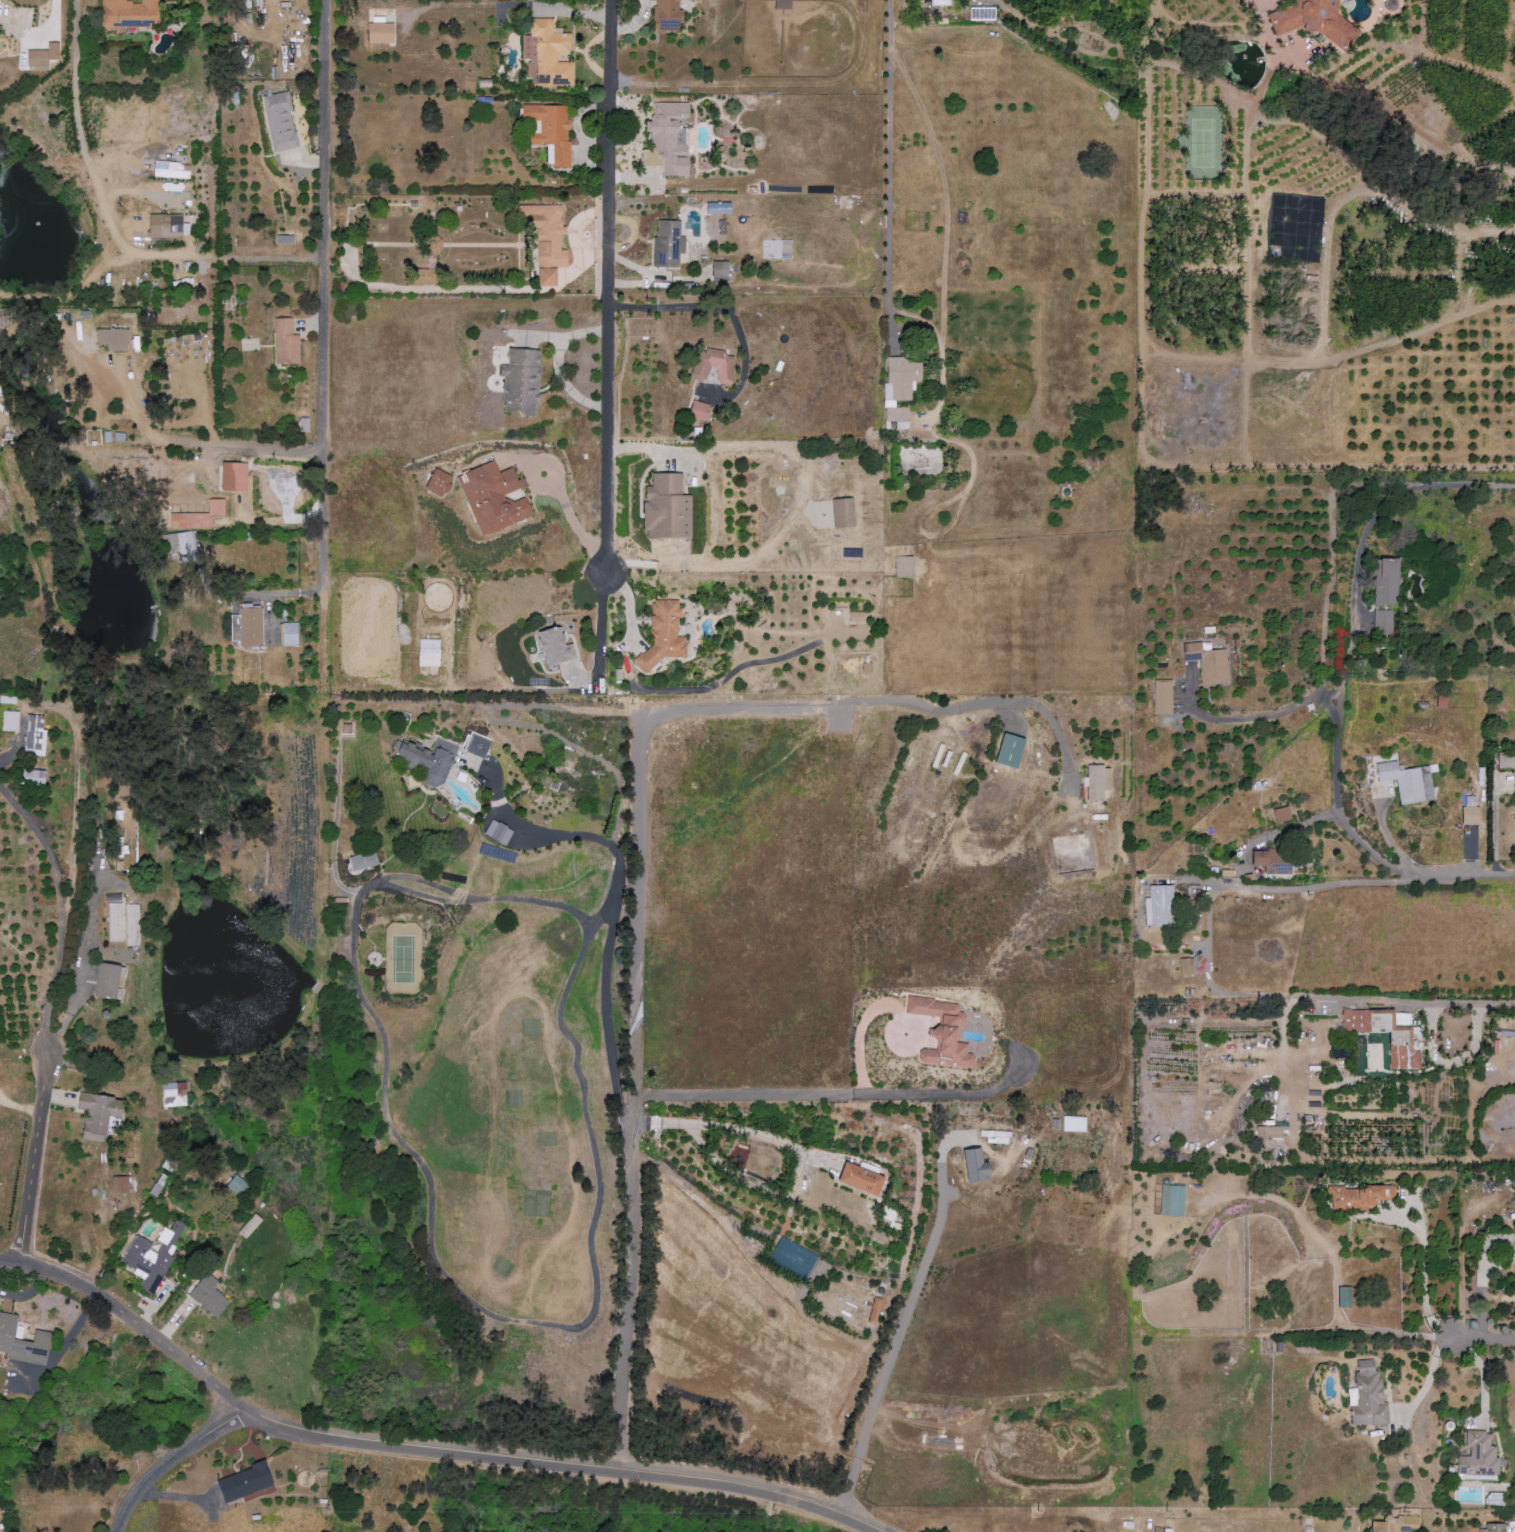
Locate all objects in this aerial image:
road: (53, 13)
building: (130, 13)
building: (668, 15)
building: (1314, 21)
building: (381, 34)
building: (547, 54)
building: (43, 56)
building: (280, 122)
building: (551, 132)
road: (887, 172)
road: (111, 224)
building: (165, 225)
building: (425, 277)
road: (609, 291)
road: (327, 300)
road: (717, 308)
road: (562, 337)
building: (114, 339)
building: (286, 343)
road: (1354, 352)
road: (564, 385)
building: (899, 386)
building: (303, 426)
road: (198, 445)
building: (234, 478)
building: (439, 483)
road: (799, 495)
building: (495, 498)
building: (216, 508)
building: (667, 508)
road: (571, 520)
building: (177, 544)
building: (188, 558)
building: (1385, 581)
road: (1339, 614)
building: (1382, 621)
building: (251, 625)
building: (666, 633)
building: (290, 634)
building: (566, 649)
building: (429, 652)
building: (1206, 661)
road: (1331, 692)
building: (1161, 697)
road: (994, 703)
road: (1262, 716)
building: (10, 721)
building: (35, 736)
building: (478, 746)
building: (1011, 751)
building: (1506, 761)
road: (73, 765)
building: (33, 778)
building: (1407, 781)
building: (1097, 782)
building: (1282, 814)
building: (1470, 815)
road: (1302, 823)
road: (1494, 823)
road: (1387, 838)
building: (363, 860)
building: (1270, 860)
road: (1461, 875)
building: (1158, 905)
road: (60, 907)
building: (115, 922)
building: (132, 925)
road: (612, 925)
road: (81, 953)
building: (1186, 966)
building: (109, 981)
road: (640, 984)
road: (1211, 989)
road: (861, 1028)
building: (1386, 1031)
building: (966, 1060)
road: (1448, 1064)
road: (839, 1093)
building: (175, 1094)
building: (99, 1115)
building: (1074, 1123)
building: (1271, 1132)
road: (36, 1135)
road: (798, 1156)
building: (978, 1166)
building: (863, 1179)
building: (120, 1184)
building: (237, 1185)
building: (1356, 1197)
building: (1172, 1200)
building: (251, 1226)
building: (1514, 1245)
building: (152, 1257)
road: (1422, 1270)
road: (1481, 1279)
building: (209, 1296)
building: (1344, 1296)
road: (136, 1322)
road: (904, 1326)
road: (1483, 1339)
building: (22, 1342)
building: (1367, 1396)
building: (1478, 1457)
road: (179, 1464)
road: (567, 1464)
building: (245, 1483)
building: (1396, 1524)
building: (1491, 1528)

